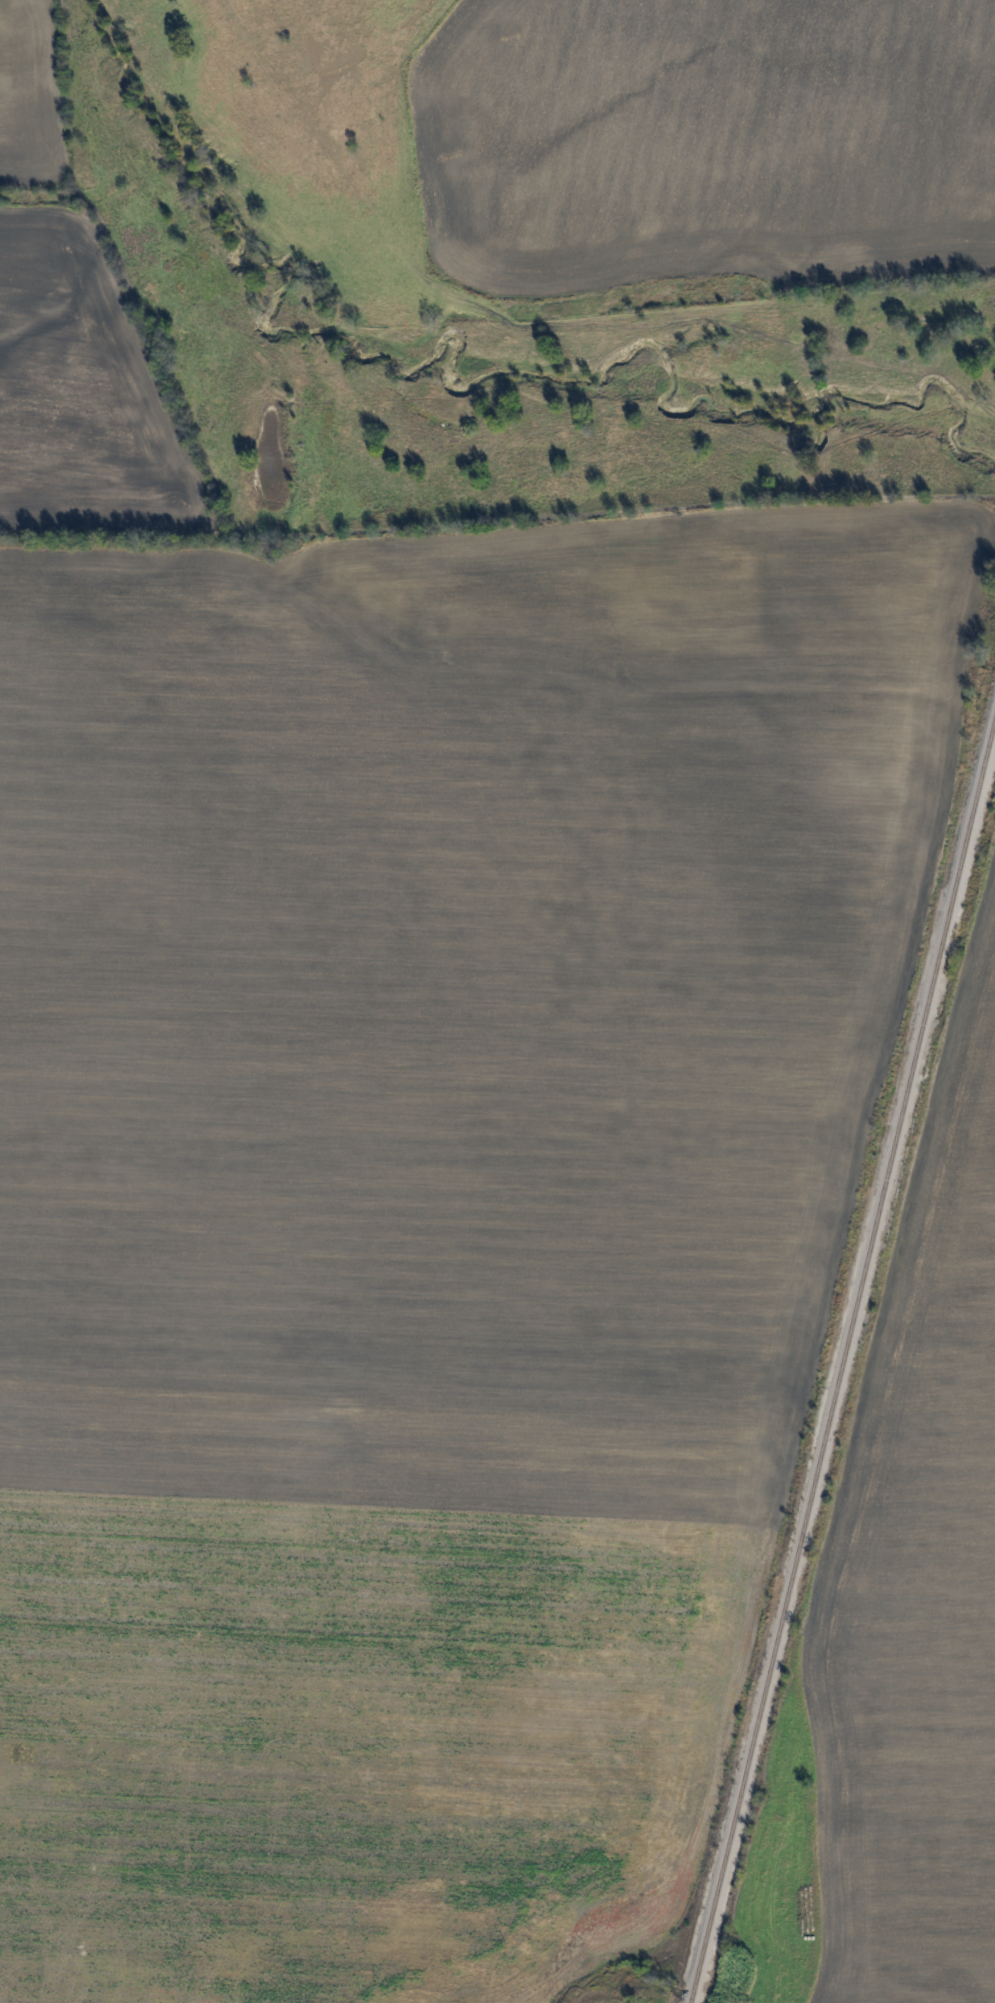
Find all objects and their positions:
railway: (843, 1364)

